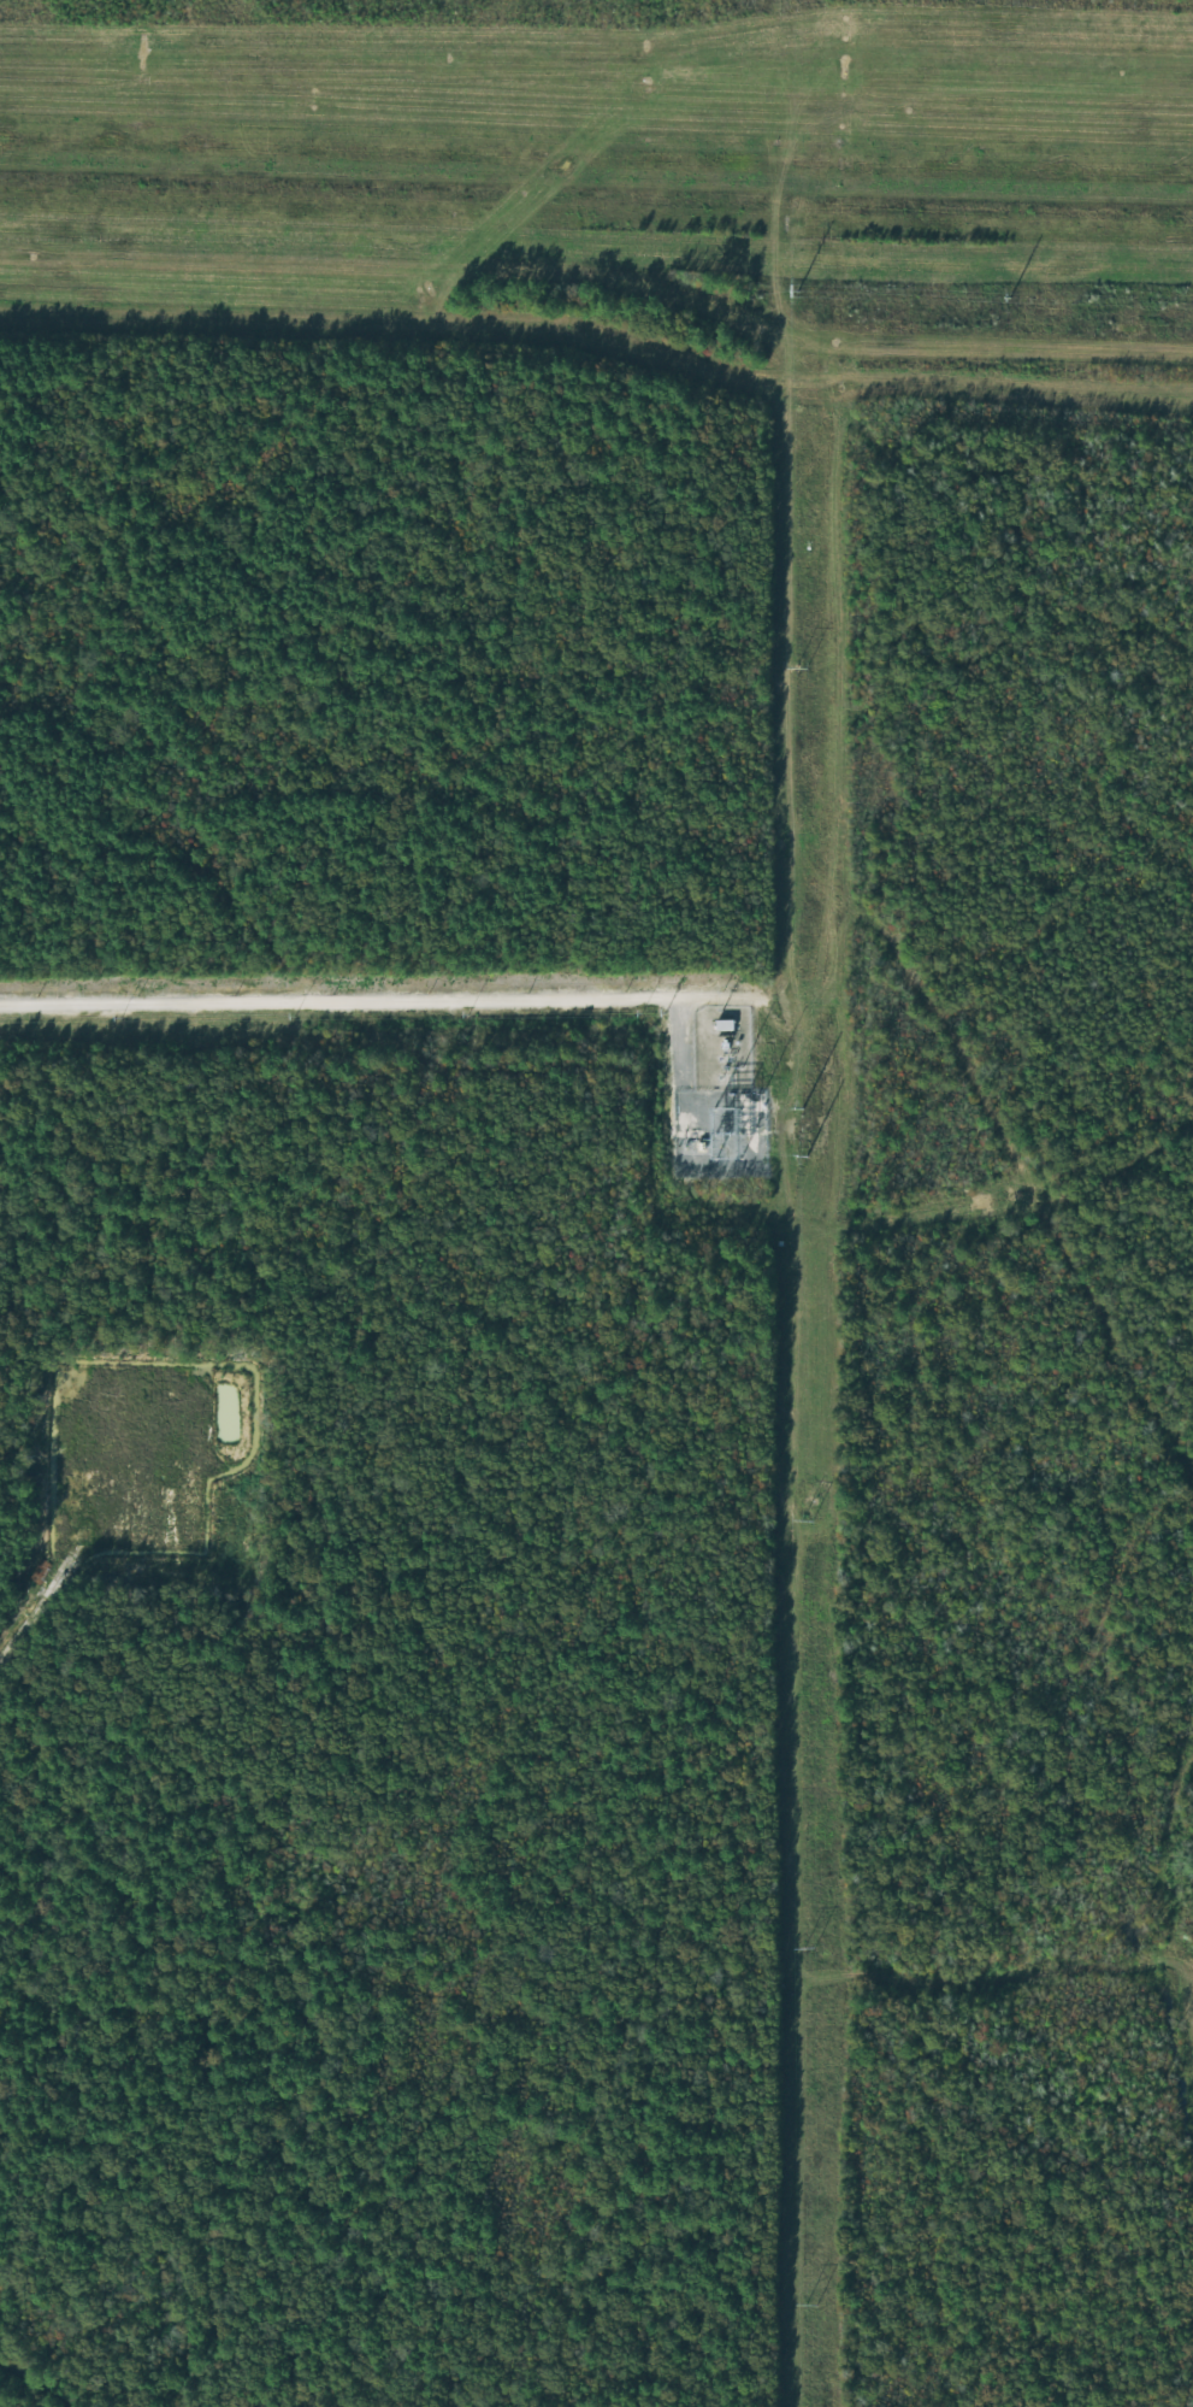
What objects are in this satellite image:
road: (1179, 2193)

